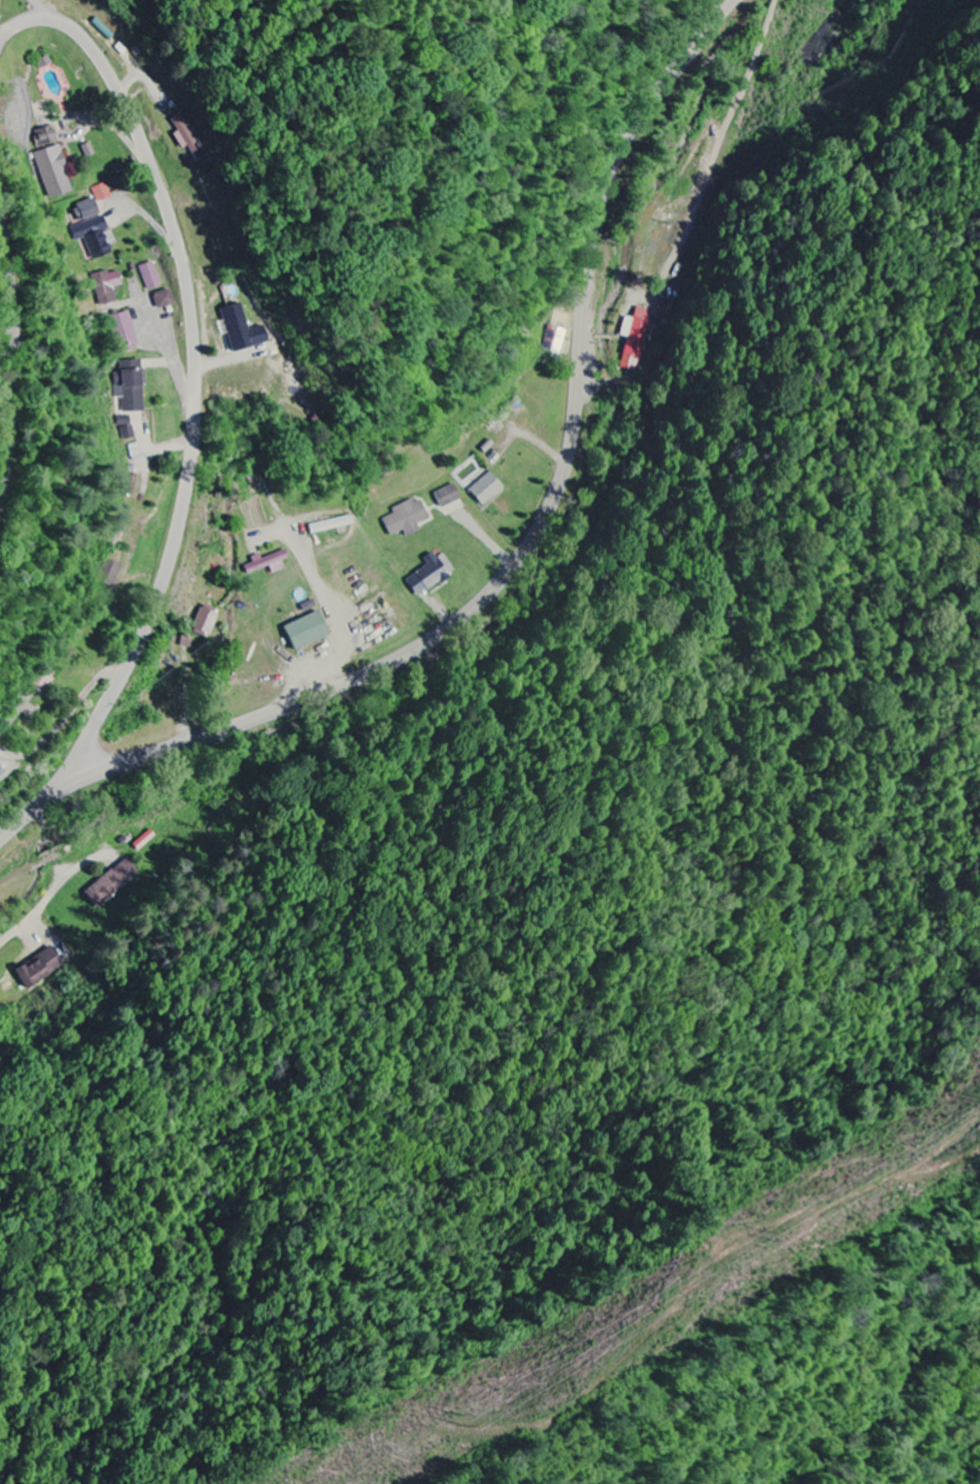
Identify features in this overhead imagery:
road: (44, 11)
building: (186, 138)
building: (89, 150)
building: (54, 164)
building: (103, 193)
building: (87, 210)
building: (96, 237)
building: (152, 276)
building: (108, 286)
building: (164, 299)
building: (242, 330)
building: (124, 333)
building: (635, 338)
building: (555, 340)
road: (12, 352)
road: (194, 365)
building: (131, 386)
building: (127, 428)
building: (487, 489)
building: (448, 496)
building: (407, 518)
building: (332, 525)
road: (522, 552)
building: (268, 563)
building: (431, 575)
road: (313, 577)
building: (206, 622)
building: (307, 631)
road: (40, 755)
building: (112, 884)
road: (55, 888)
building: (41, 969)
power tower: (460, 1415)

